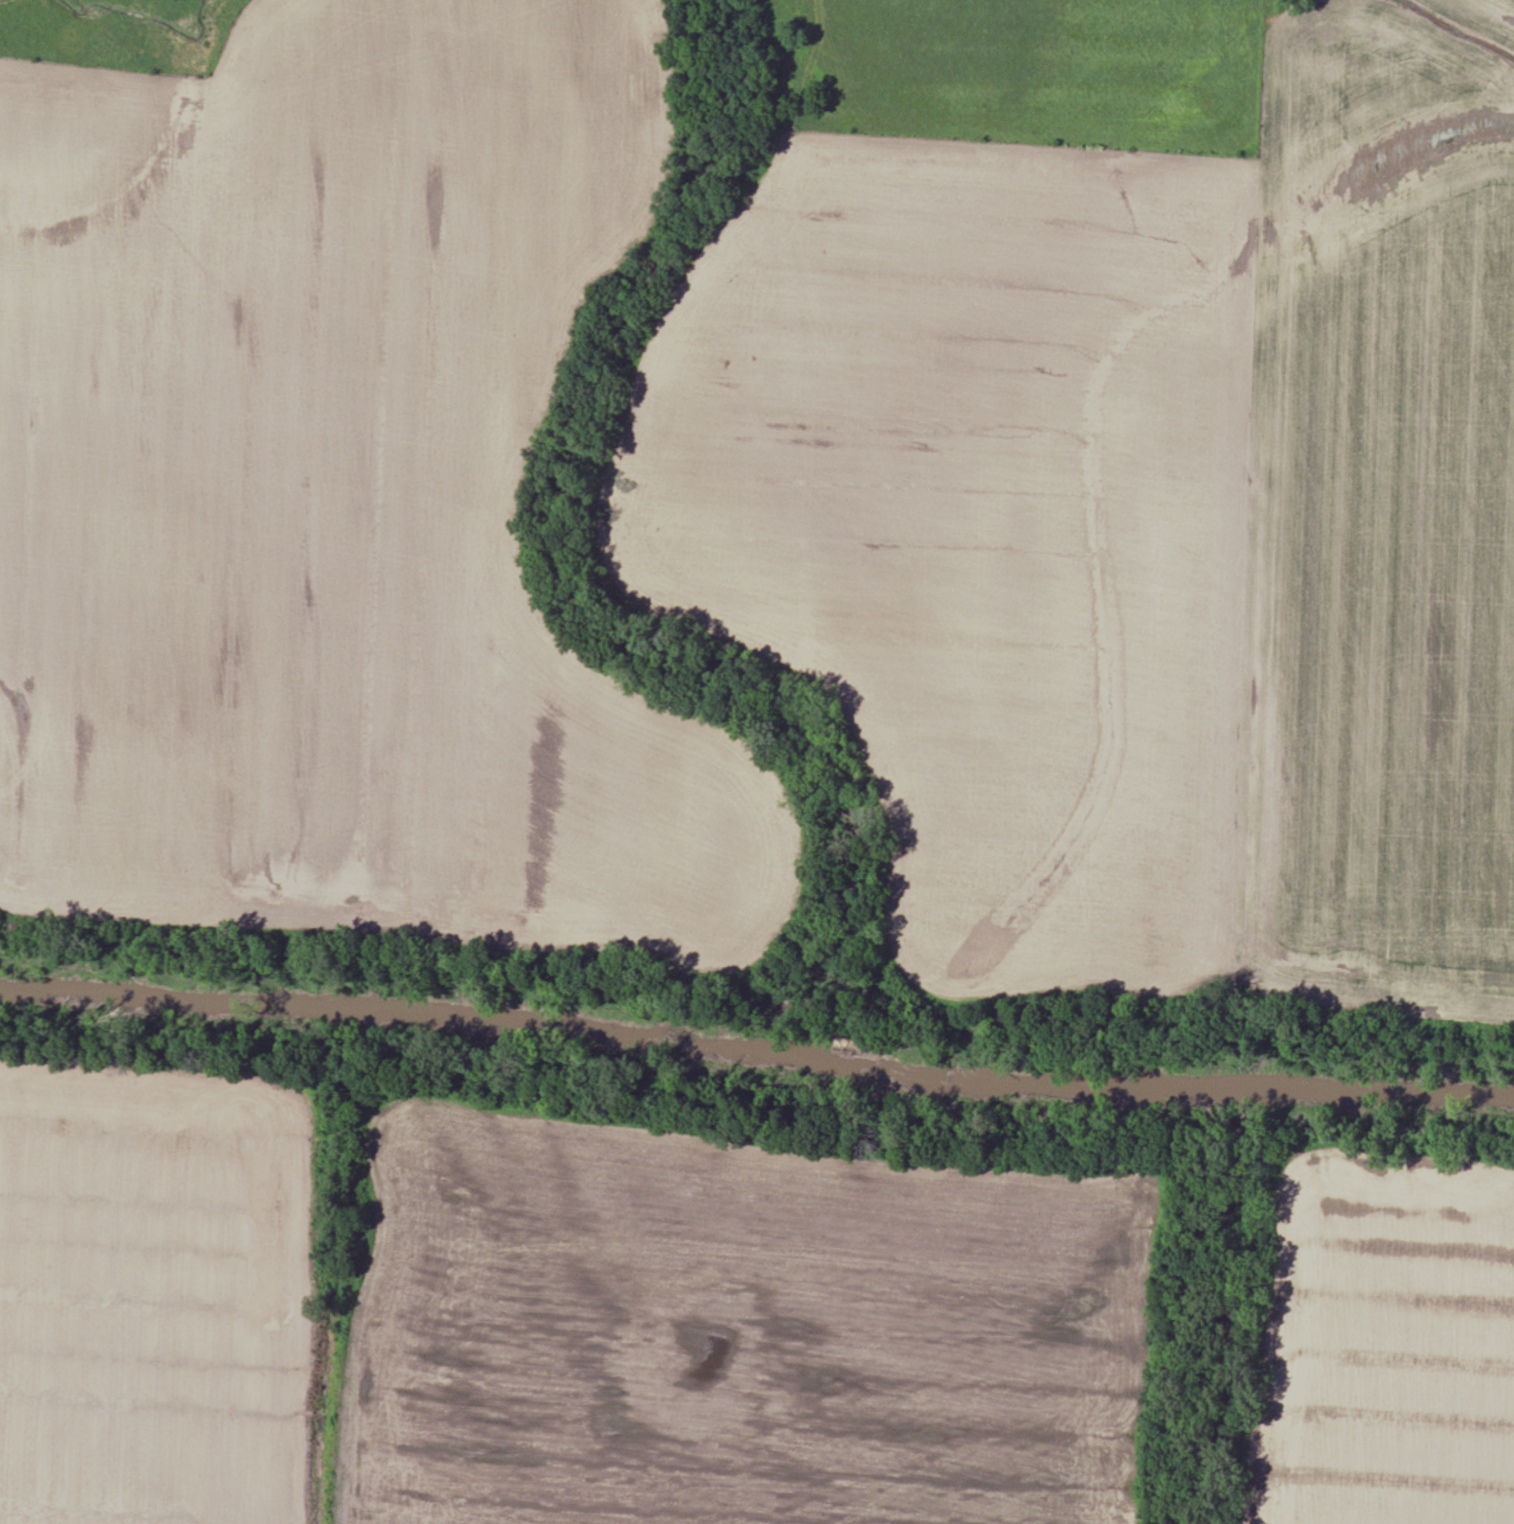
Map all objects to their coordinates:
crop: (338, 503)
crop: (1383, 523)
crop: (977, 528)
river: (757, 1052)
crop: (153, 1293)
crop: (744, 1327)
crop: (1384, 1342)

